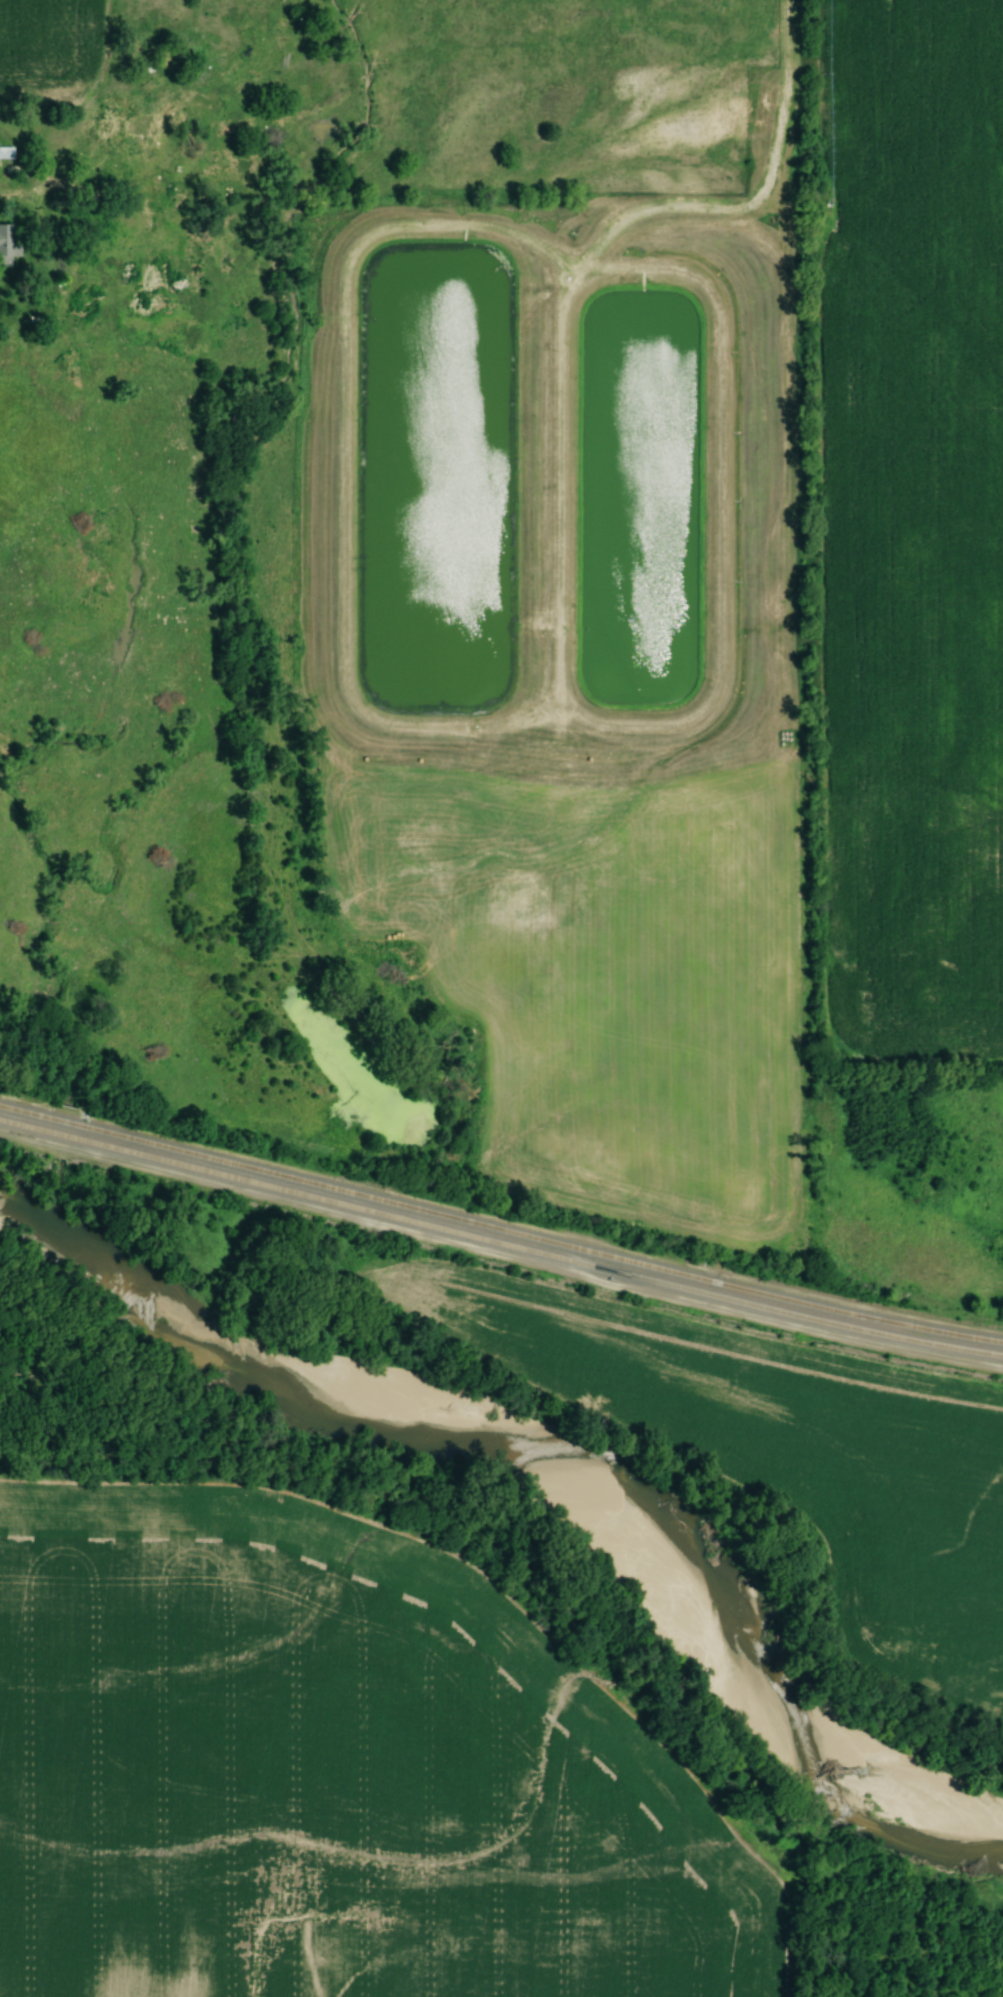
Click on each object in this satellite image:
building: (138, 147)
building: (6, 152)
road: (6, 194)
building: (6, 247)
building: (145, 274)
building: (168, 274)
railway: (500, 1228)
railway: (500, 1241)
river: (548, 1466)

